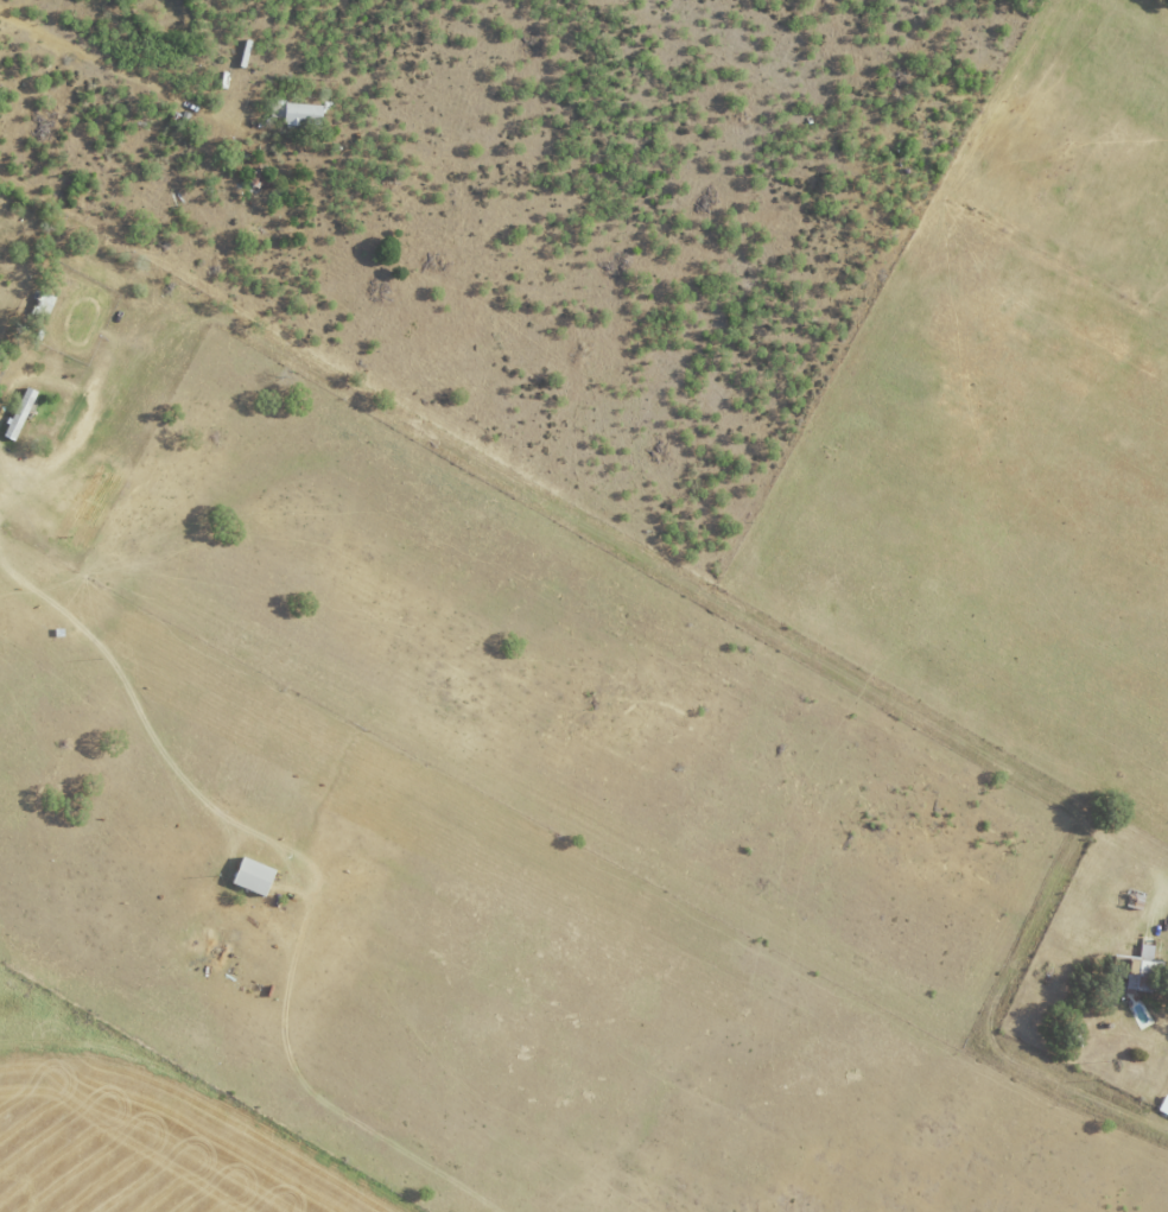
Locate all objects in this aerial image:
road: (123, 75)
building: (306, 114)
road: (82, 402)
building: (23, 414)
road: (2, 458)
road: (2, 470)
road: (748, 616)
road: (147, 716)
building: (258, 876)
building: (1135, 967)

